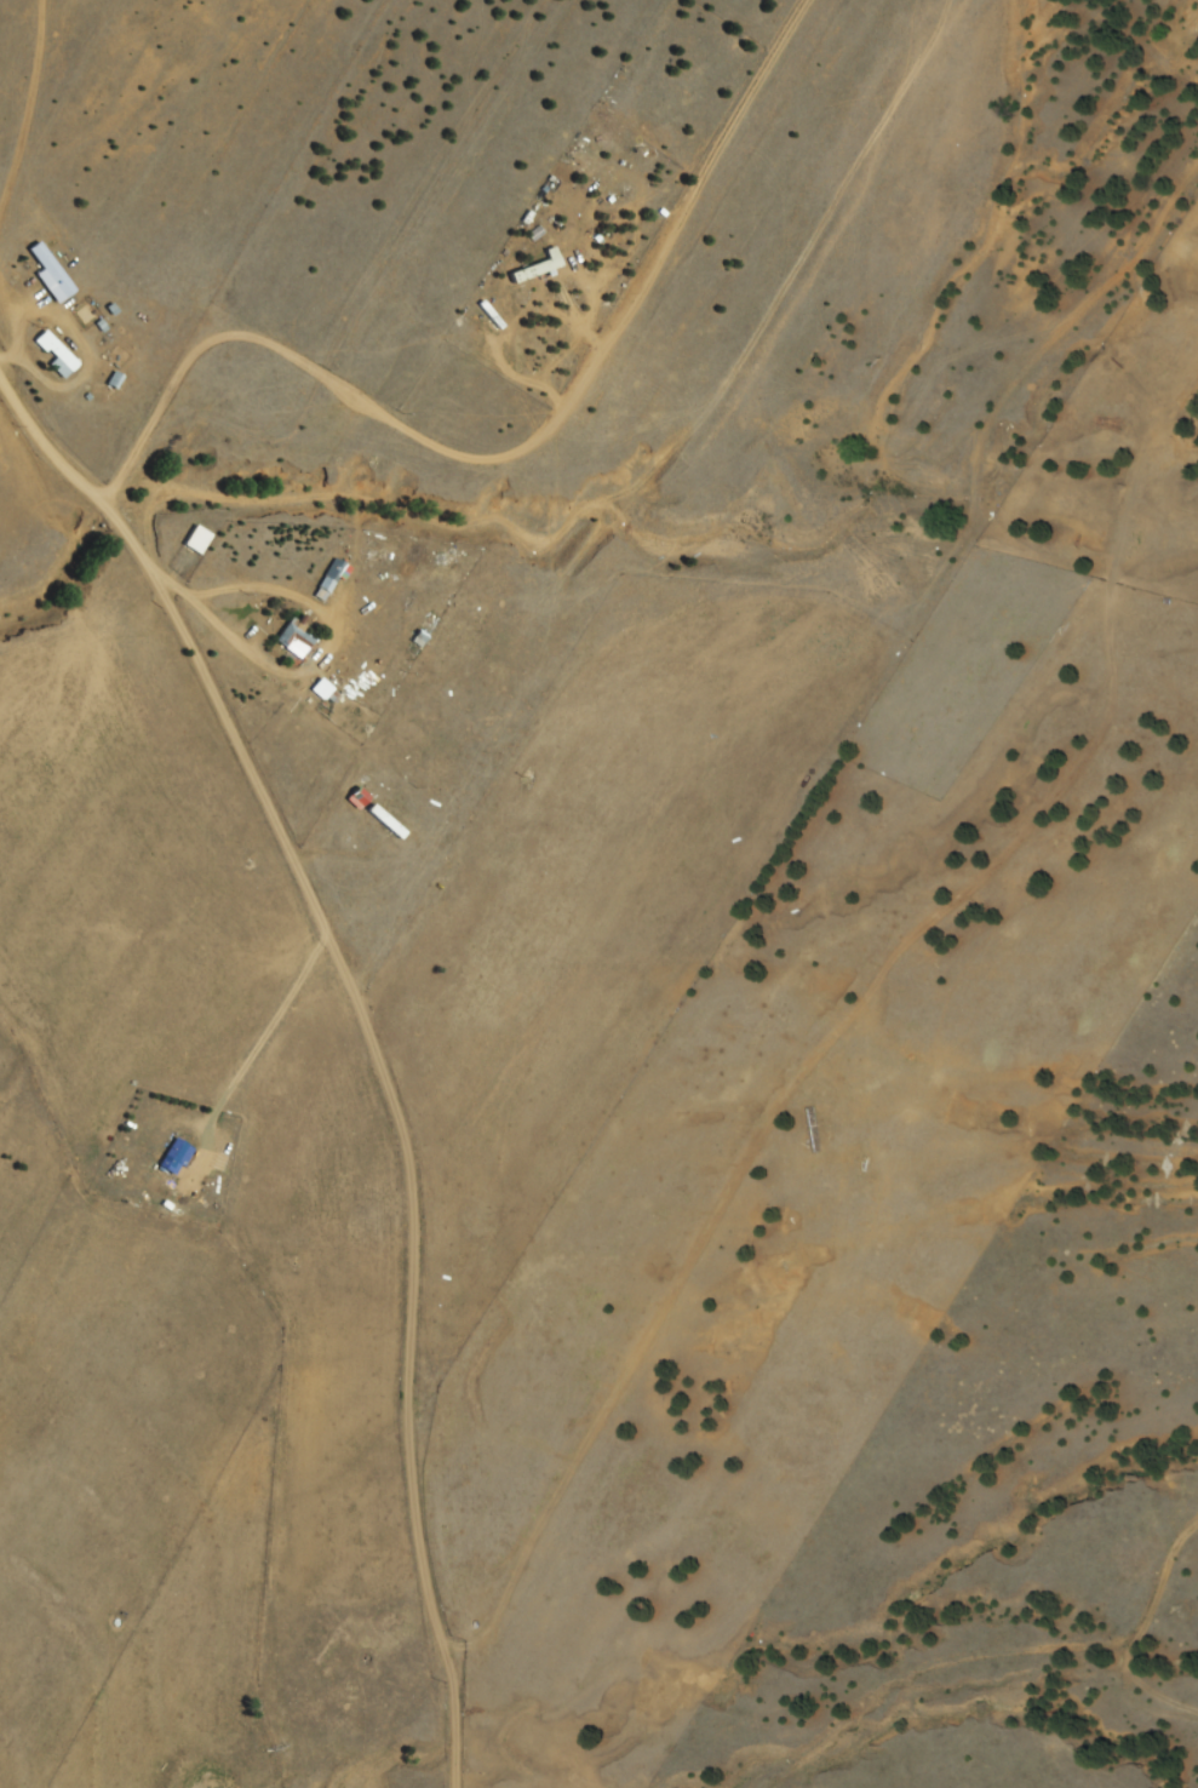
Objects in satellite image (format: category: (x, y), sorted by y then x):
building: (45, 274)
building: (52, 356)
road: (97, 505)
building: (191, 541)
building: (327, 579)
building: (354, 797)
building: (170, 1159)

